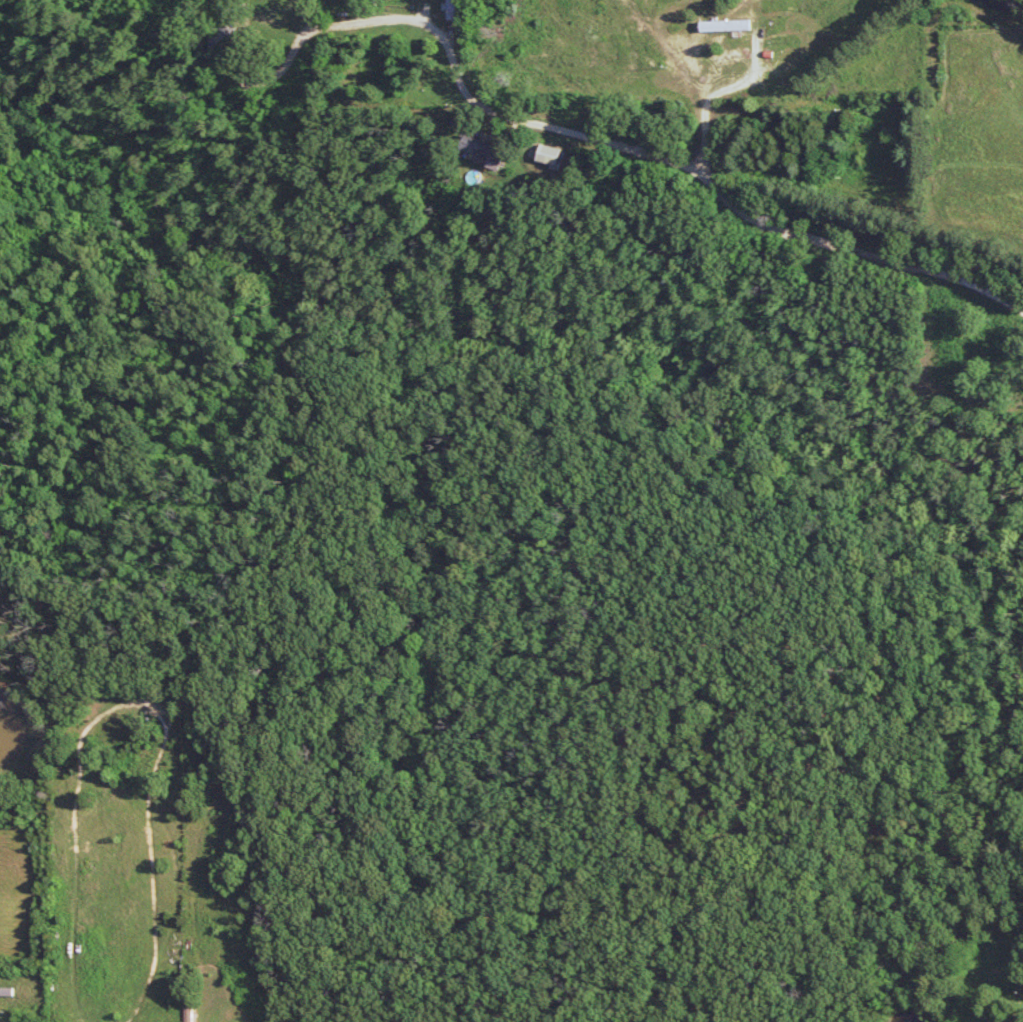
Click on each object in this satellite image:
road: (977, 9)
building: (456, 10)
road: (364, 22)
road: (483, 22)
building: (730, 26)
road: (597, 42)
road: (297, 47)
road: (549, 70)
road: (699, 86)
road: (893, 92)
building: (486, 149)
building: (553, 155)
road: (731, 188)
building: (192, 1015)
building: (1013, 1021)

